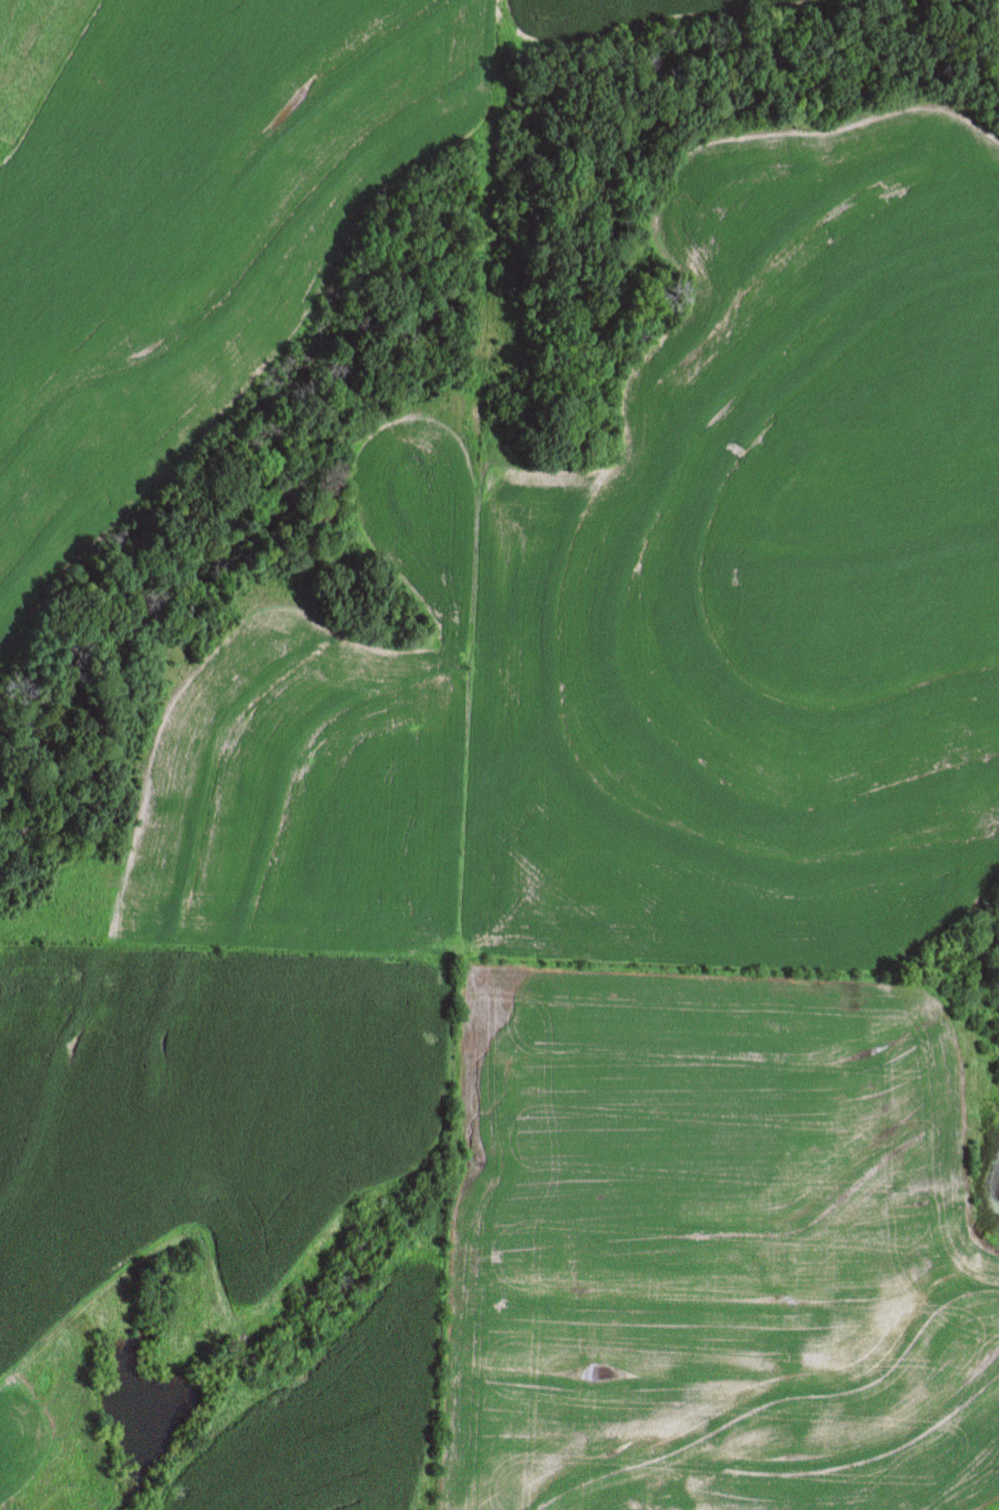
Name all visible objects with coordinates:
crop: (993, 15)
crop: (762, 582)

